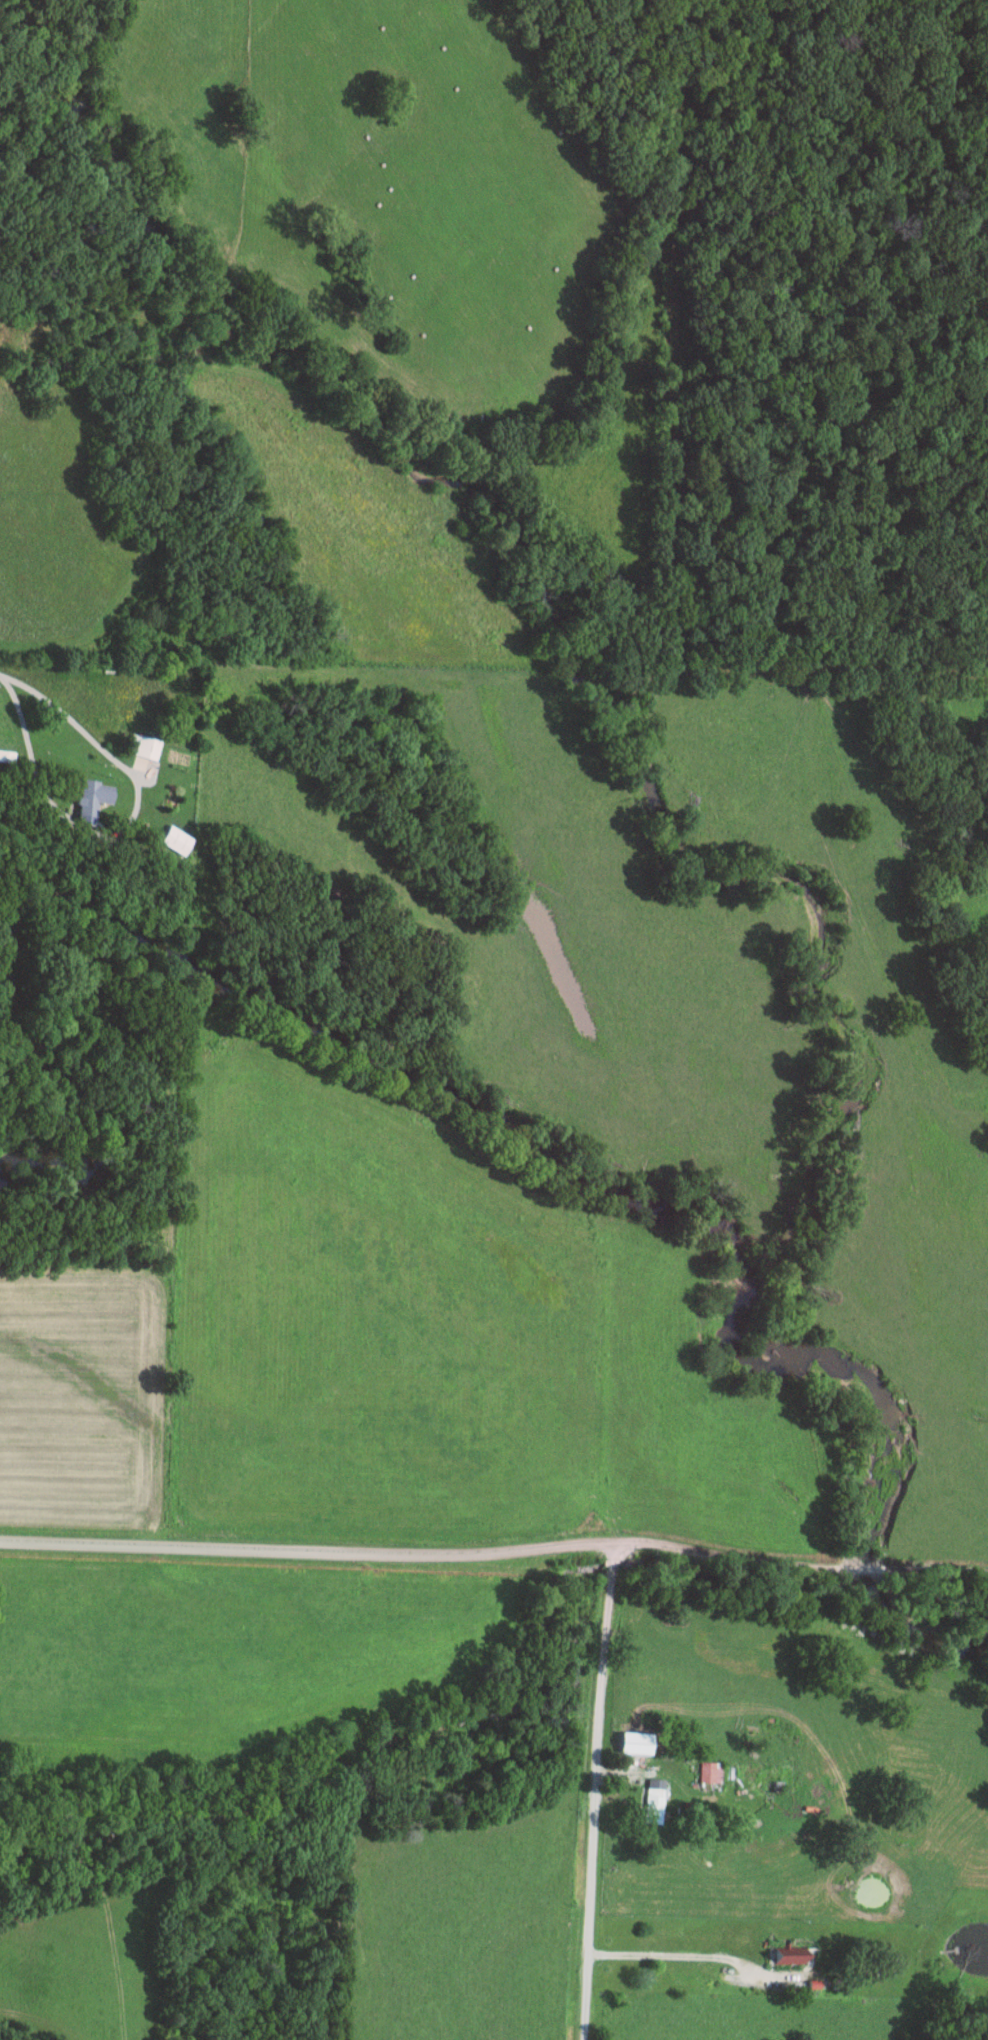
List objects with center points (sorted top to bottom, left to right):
road: (71, 728)
building: (144, 746)
building: (7, 755)
building: (88, 795)
road: (494, 1554)
building: (711, 1771)
building: (769, 1784)
road: (596, 1793)
building: (655, 1800)
building: (793, 1954)
road: (679, 1956)

